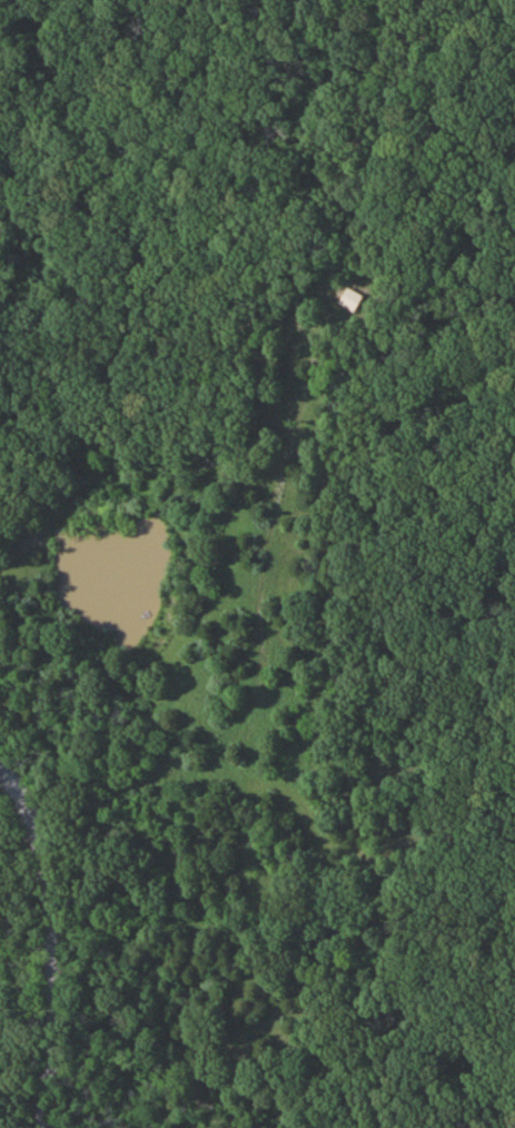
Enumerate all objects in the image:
building: (349, 300)
road: (12, 928)

